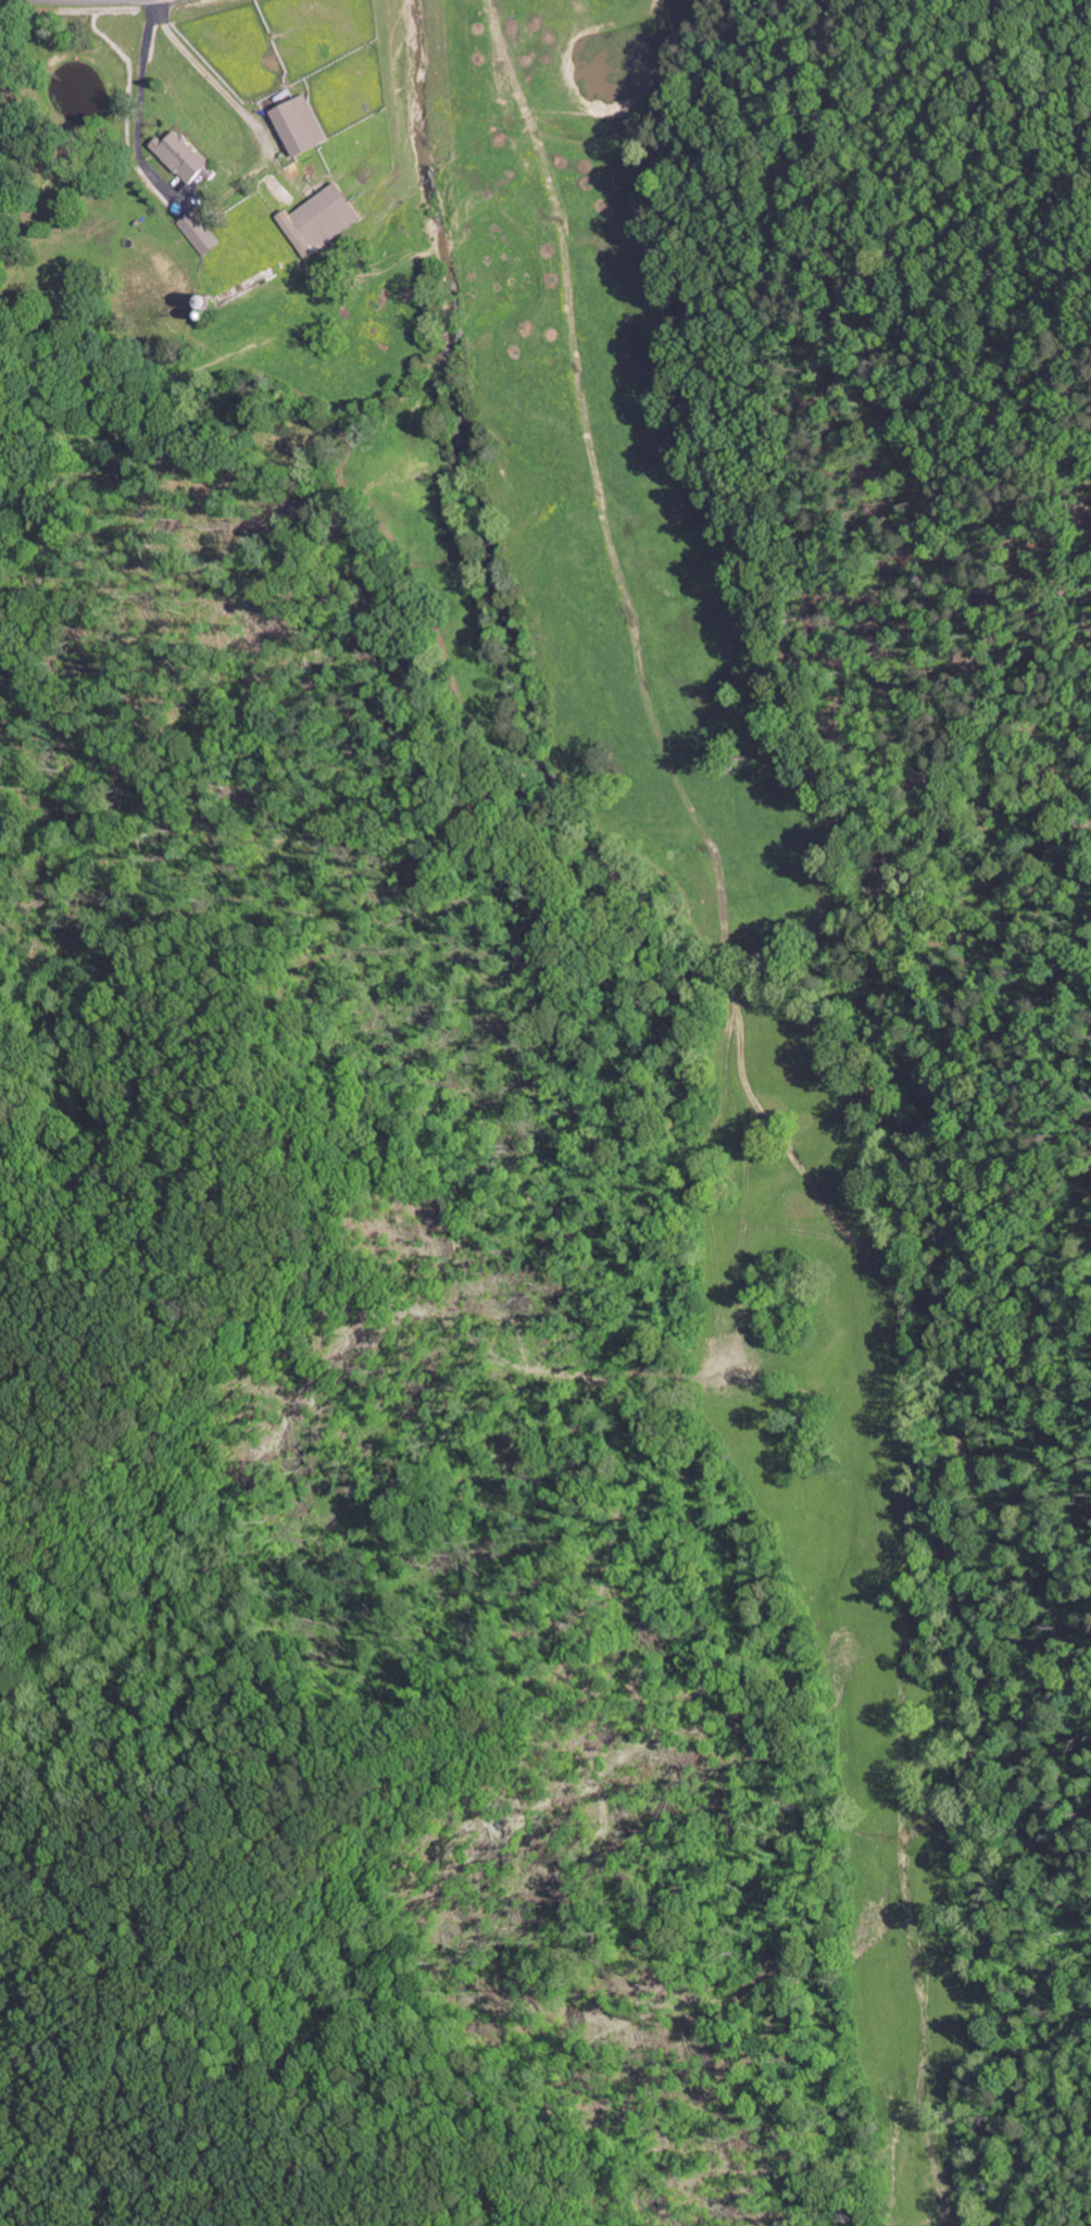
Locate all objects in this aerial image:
building: (297, 125)
building: (181, 157)
building: (196, 232)
road: (958, 1095)

